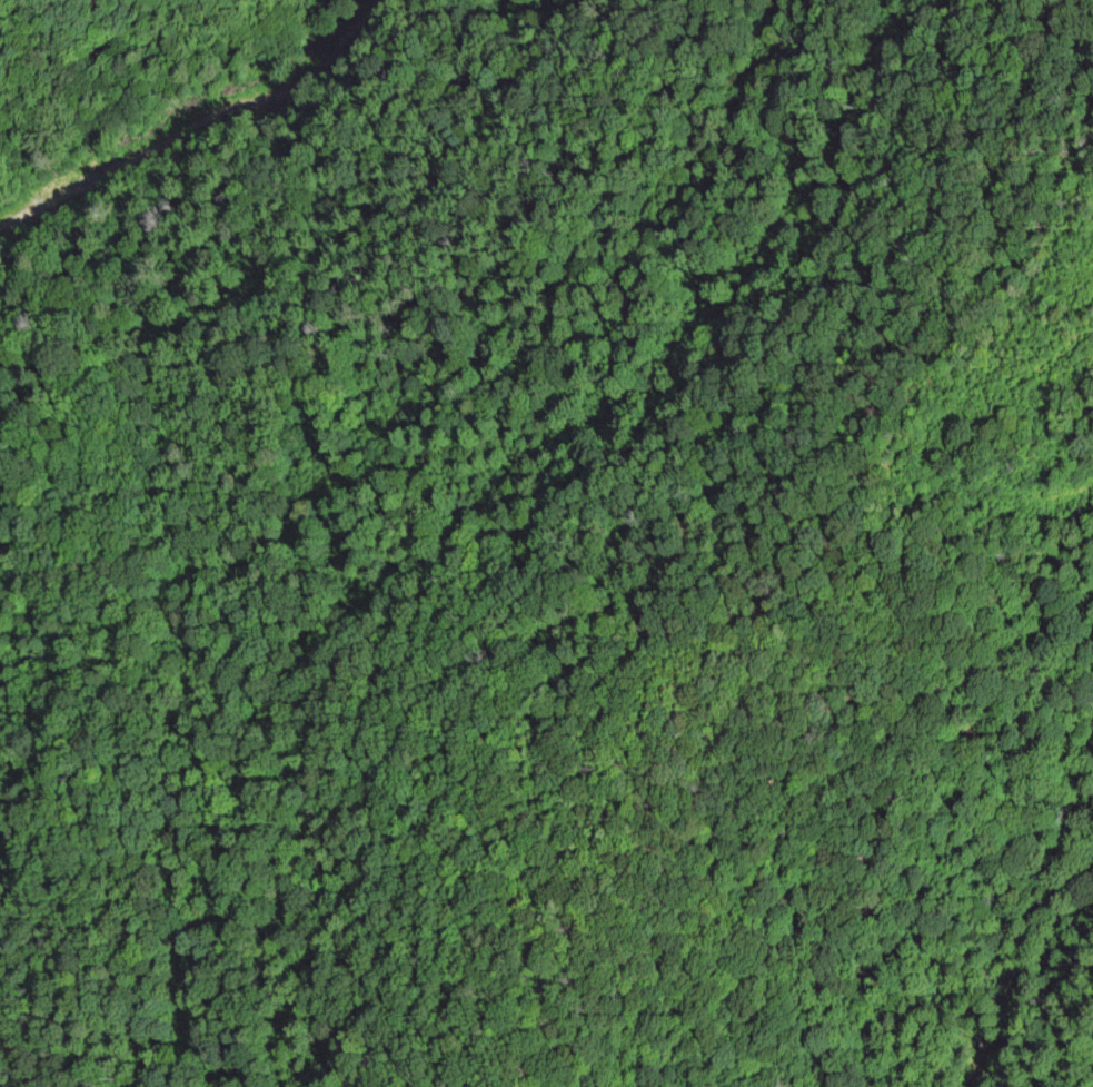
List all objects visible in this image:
road: (195, 118)

